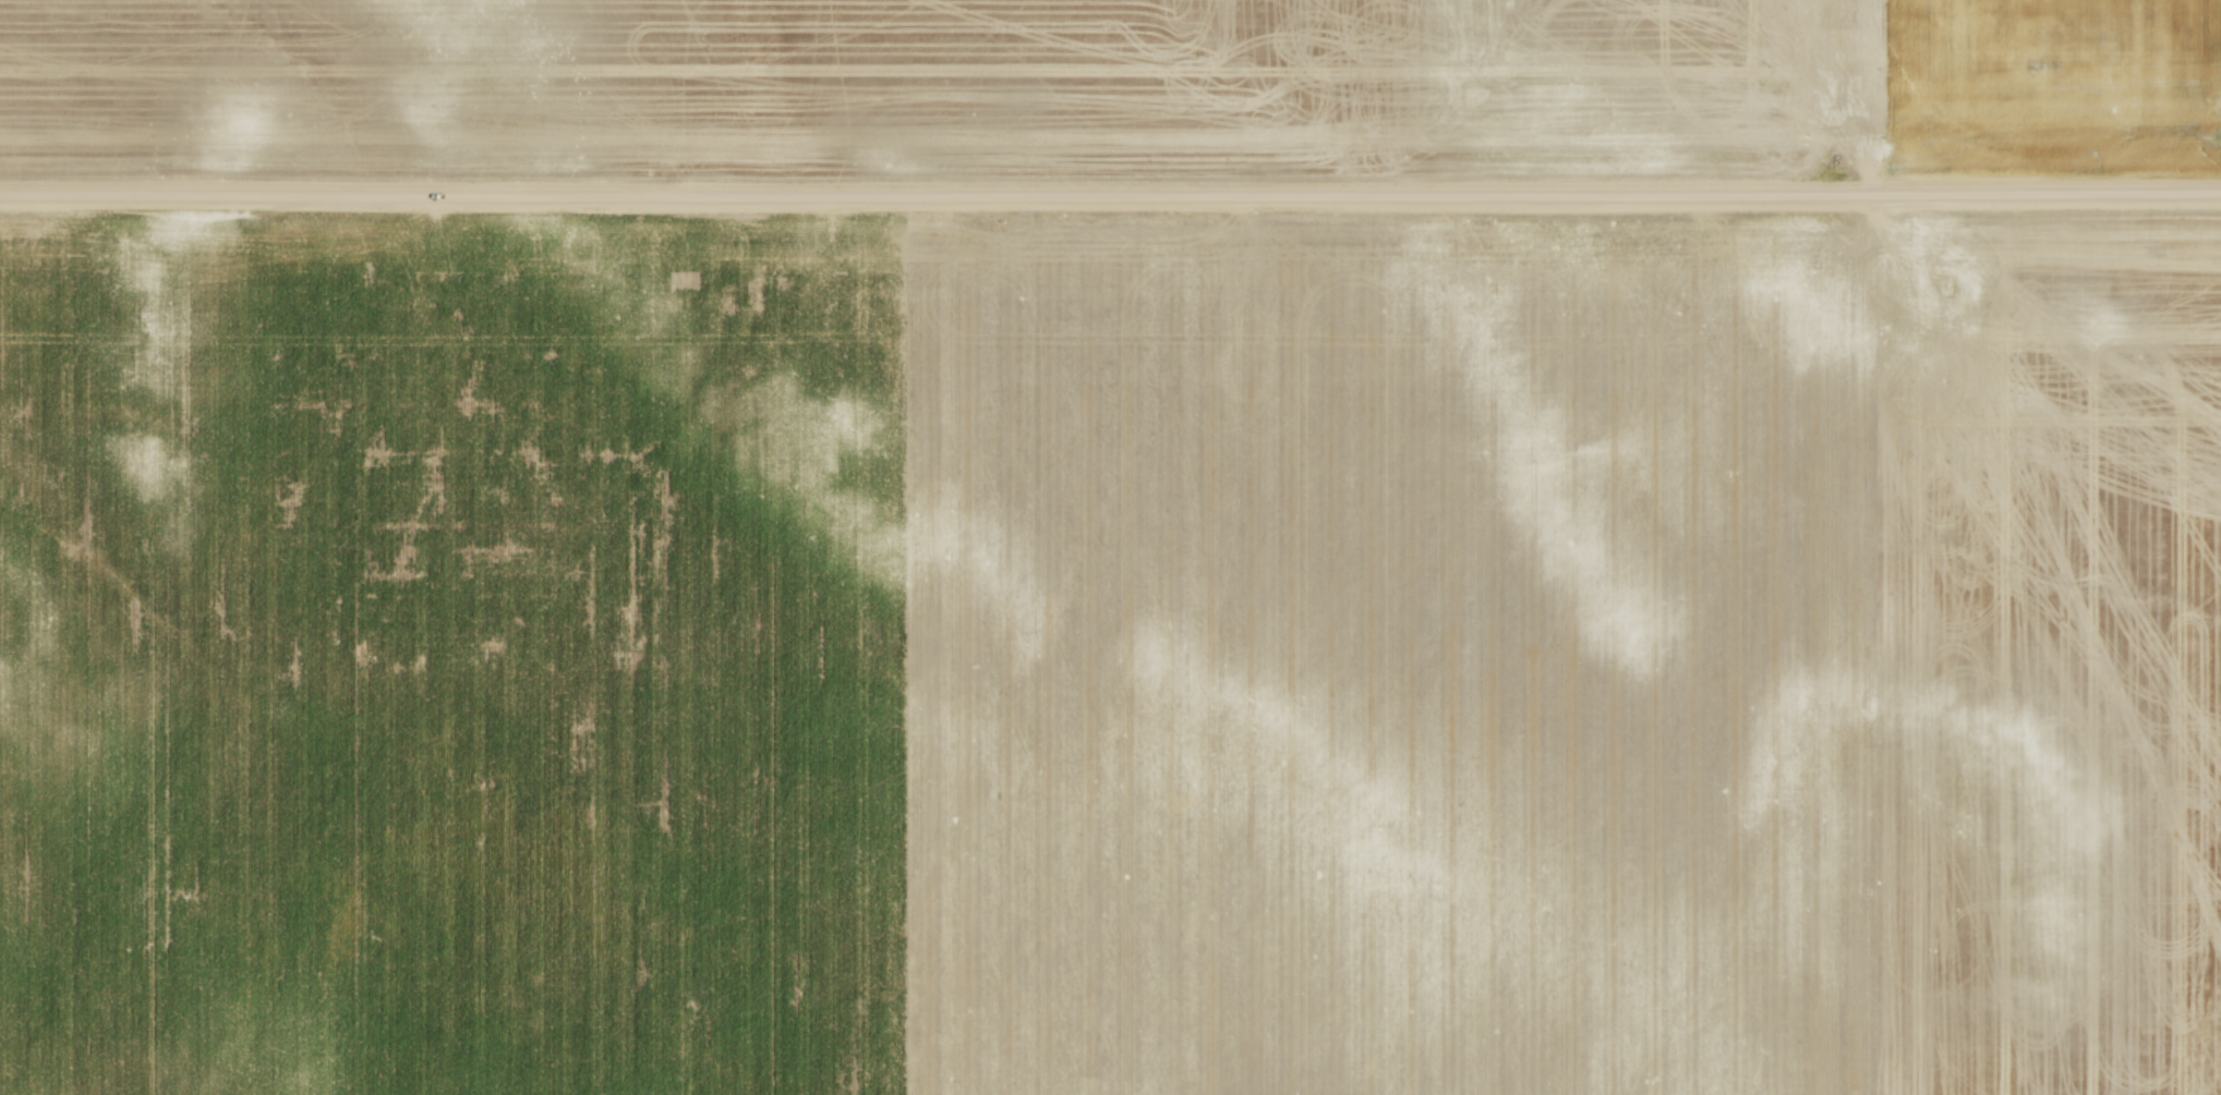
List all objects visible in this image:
crop: (1107, 87)
road: (1110, 200)
crop: (1111, 654)

